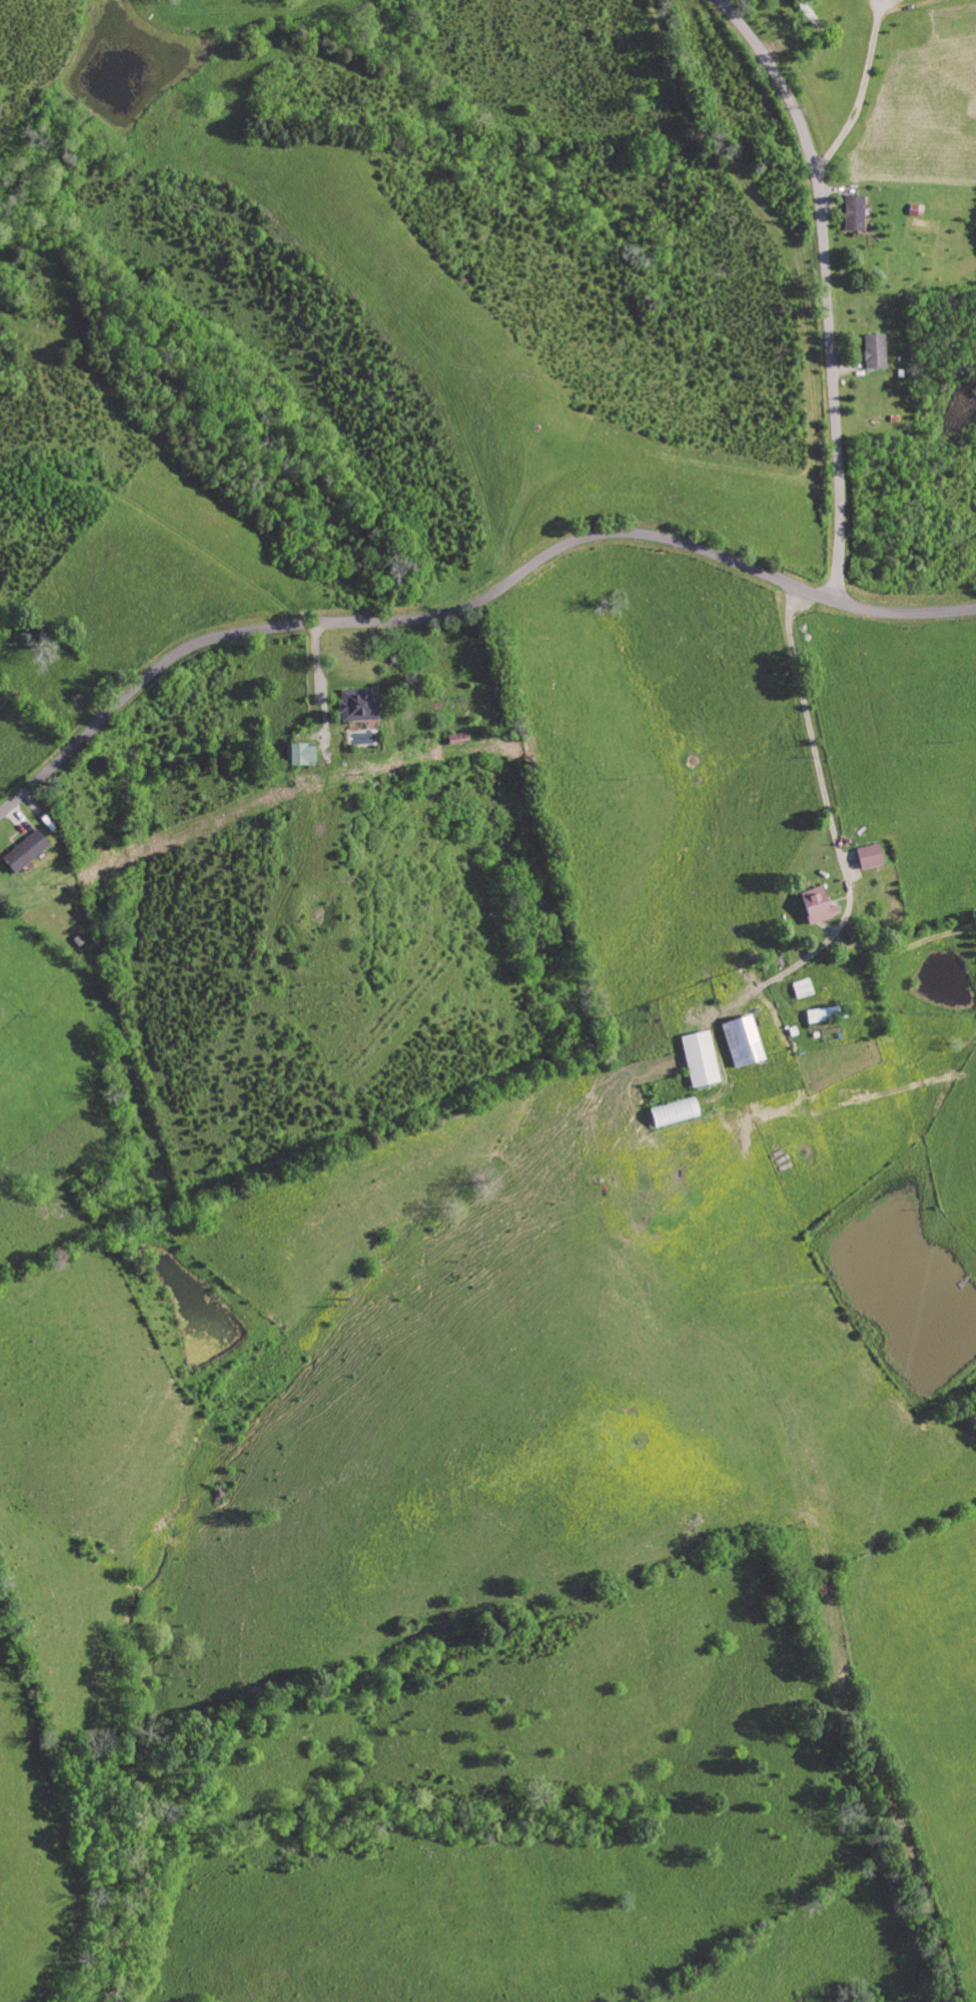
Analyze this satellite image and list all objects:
road: (861, 90)
building: (853, 214)
road: (827, 287)
building: (873, 352)
road: (469, 604)
building: (357, 706)
building: (296, 756)
building: (22, 853)
building: (867, 858)
building: (813, 907)
building: (800, 990)
building: (818, 1016)
building: (739, 1042)
building: (697, 1060)

